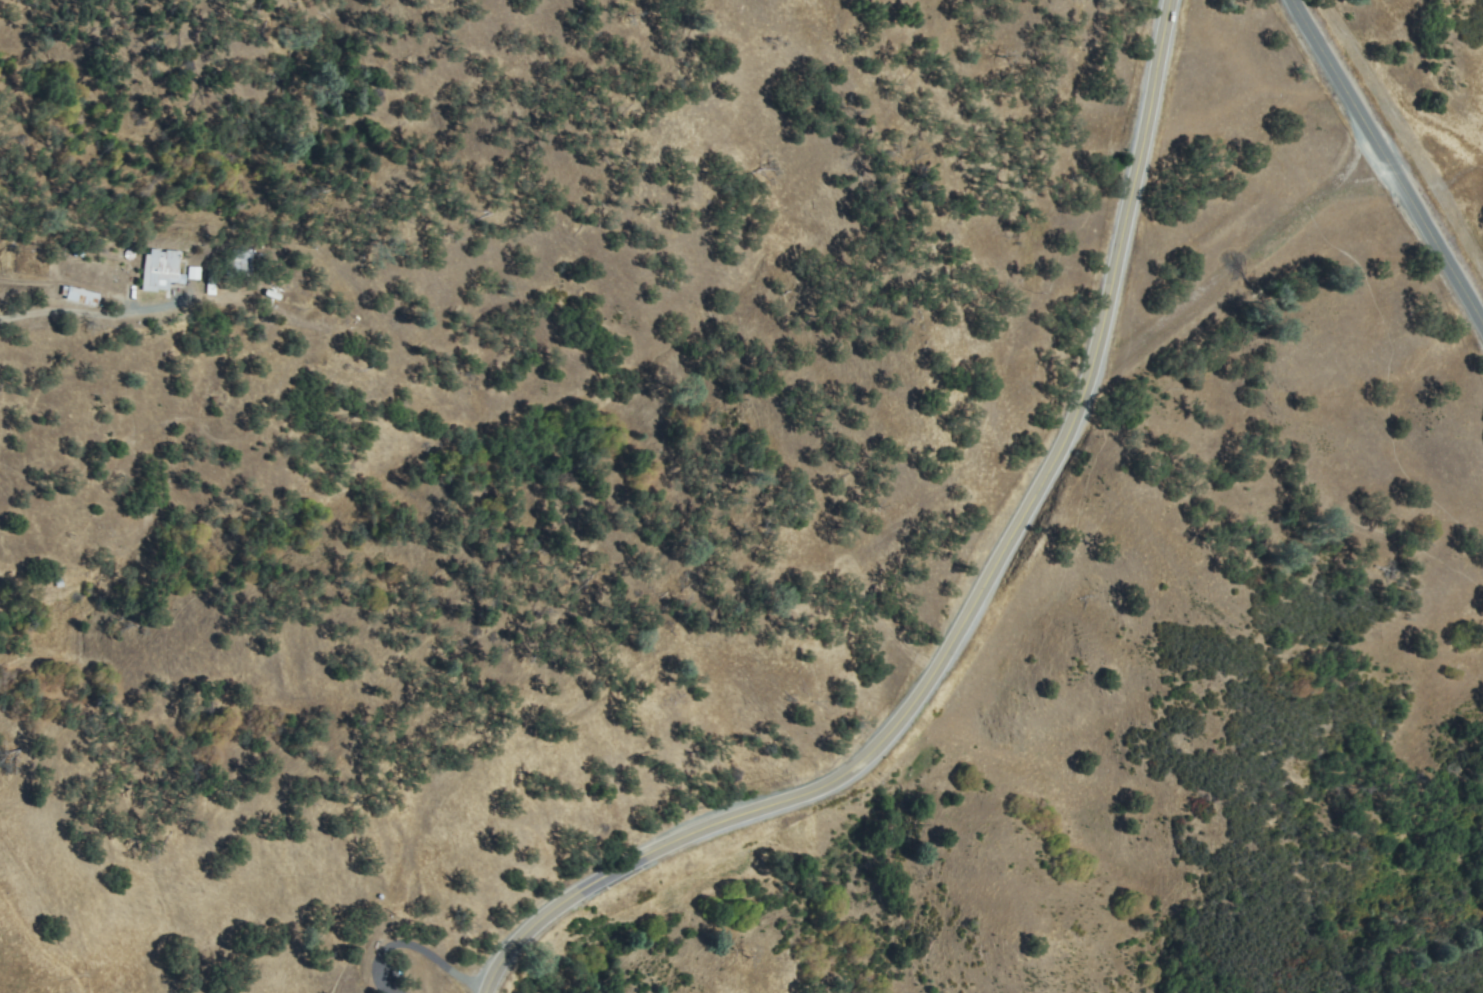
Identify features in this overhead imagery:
road: (1390, 163)
building: (245, 261)
building: (165, 270)
building: (196, 273)
building: (85, 296)
road: (97, 314)
road: (974, 608)
crop: (40, 895)
road: (419, 952)

